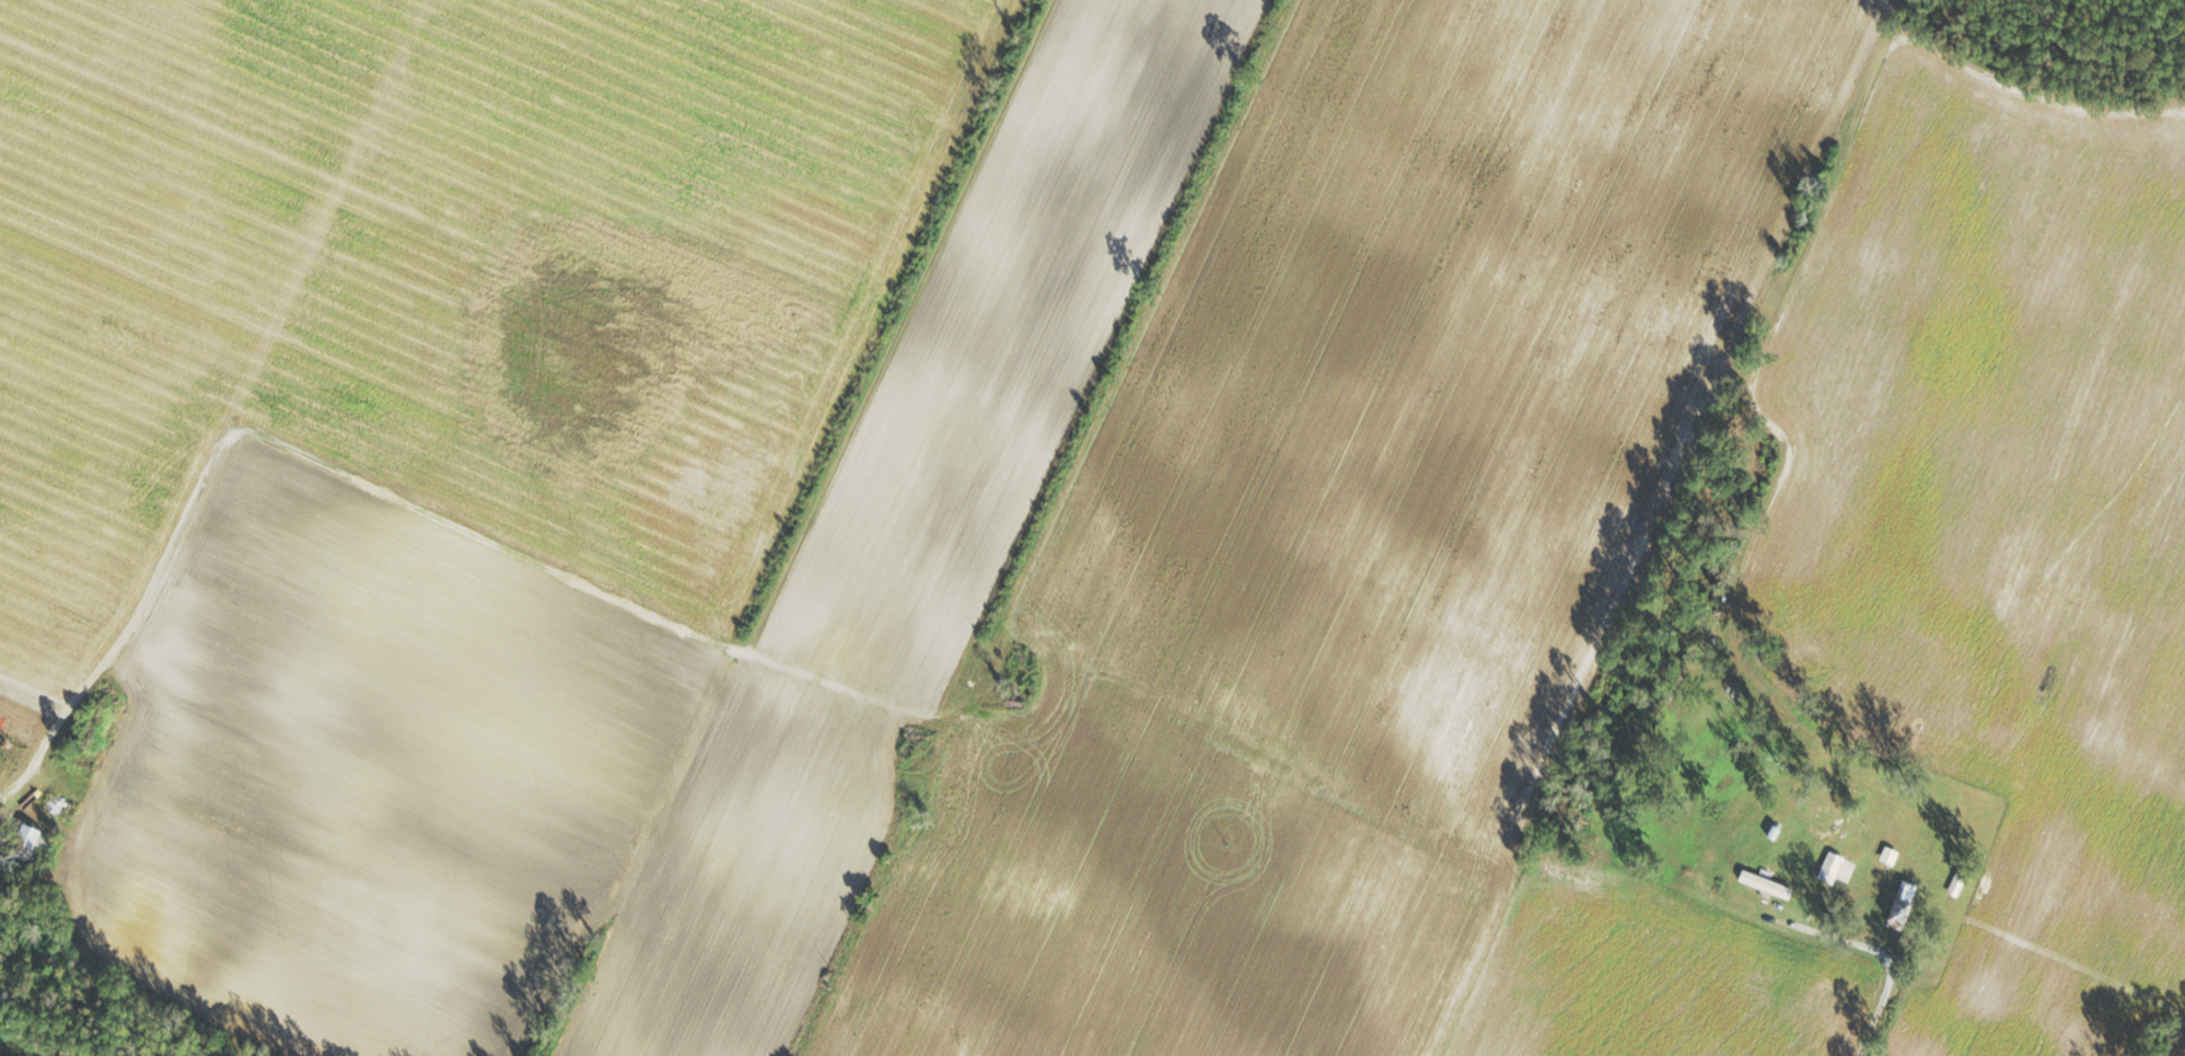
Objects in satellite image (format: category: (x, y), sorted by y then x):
building: (50, 797)
building: (30, 834)
building: (1833, 864)
building: (1957, 883)
building: (1904, 903)
road: (1909, 1014)

